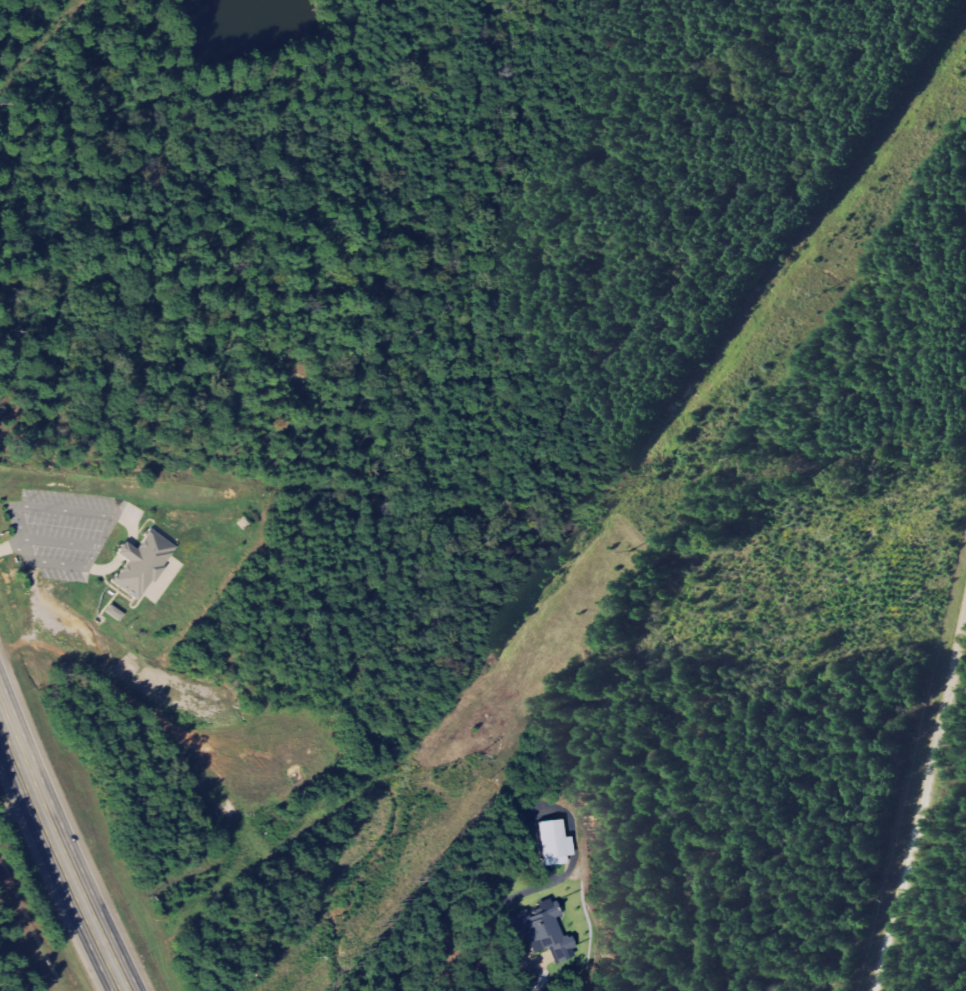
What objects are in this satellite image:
building: (146, 563)
building: (117, 613)
road: (921, 804)
building: (558, 842)
road: (60, 850)
building: (548, 931)

